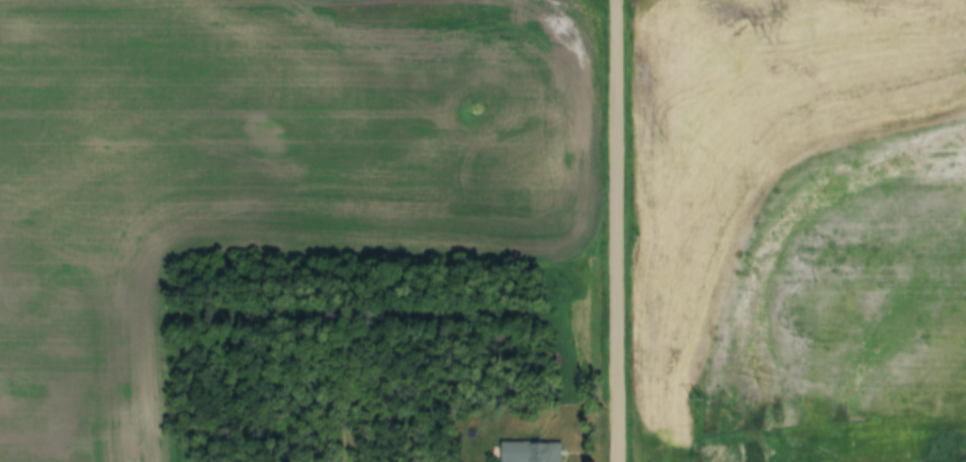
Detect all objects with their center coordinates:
road: (618, 231)
power tower: (693, 397)
building: (531, 451)

